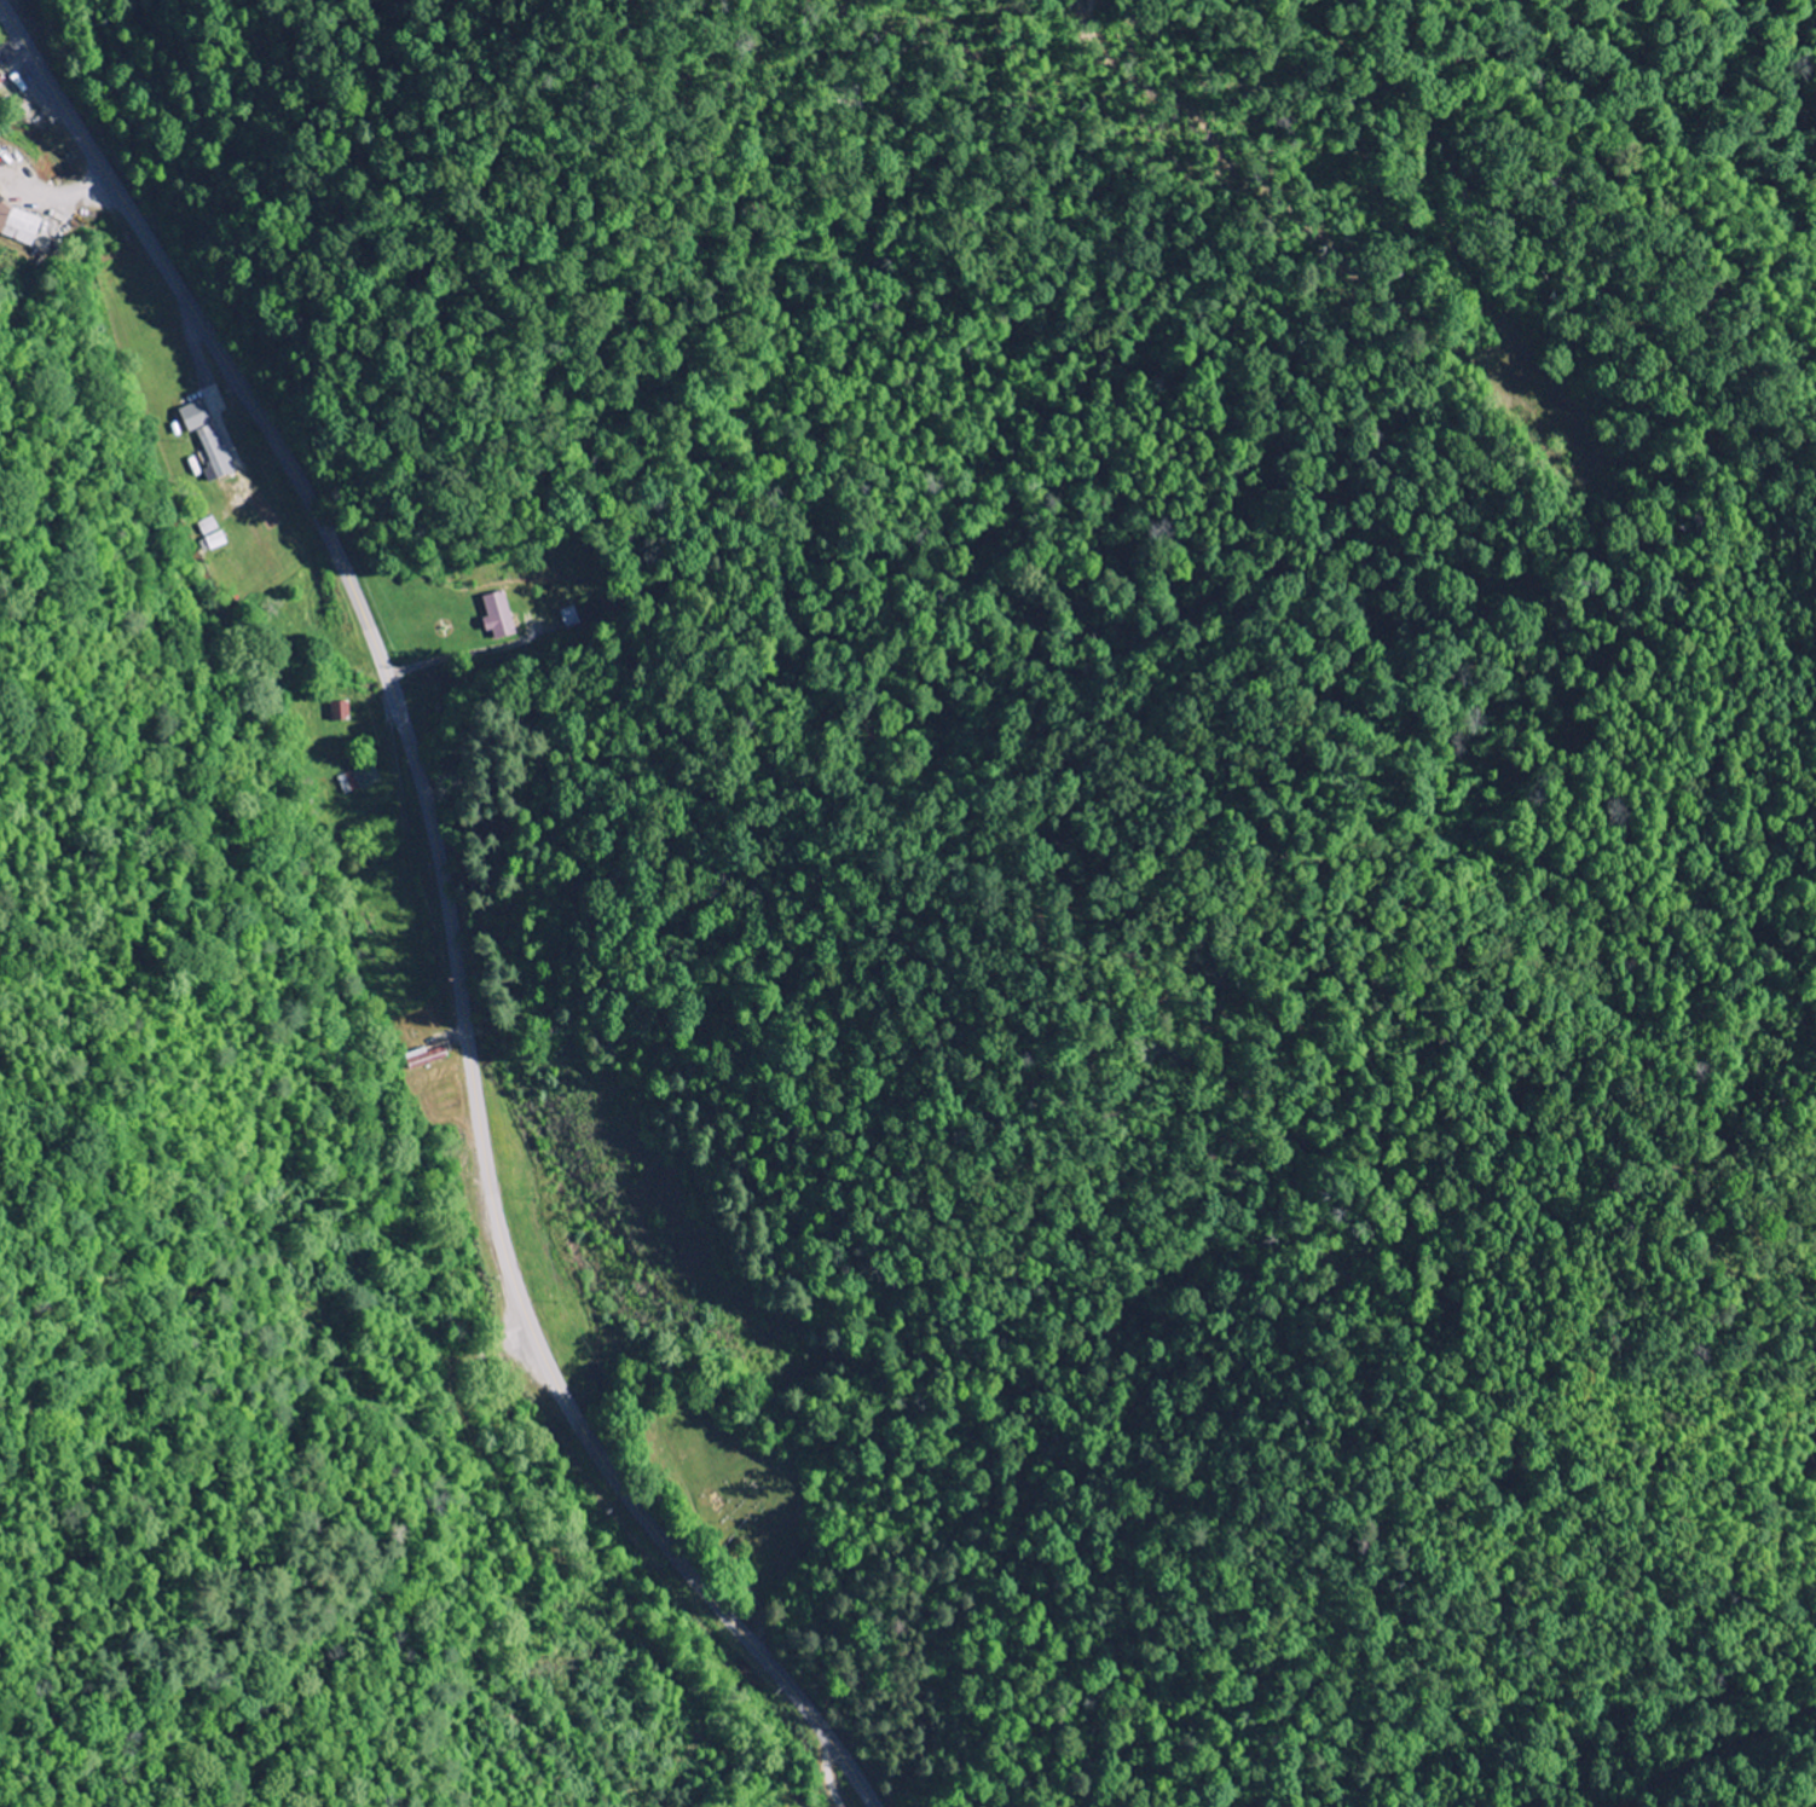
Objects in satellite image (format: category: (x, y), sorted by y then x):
building: (18, 225)
building: (196, 417)
building: (215, 454)
building: (209, 527)
building: (214, 544)
building: (499, 618)
building: (571, 619)
building: (341, 712)
building: (359, 780)
road: (447, 909)
building: (427, 1058)

